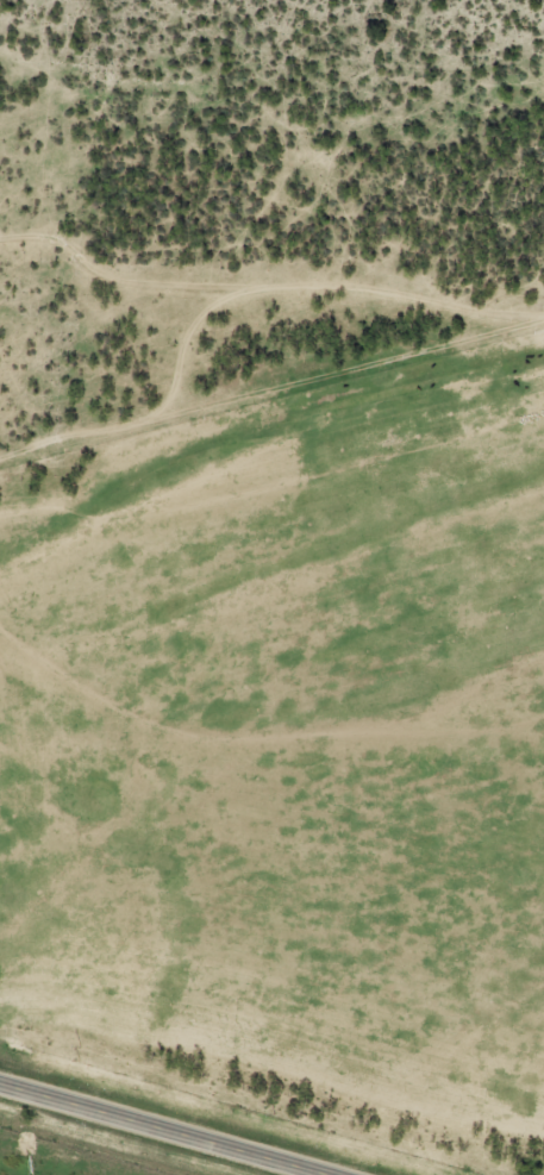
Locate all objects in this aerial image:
road: (165, 1127)

